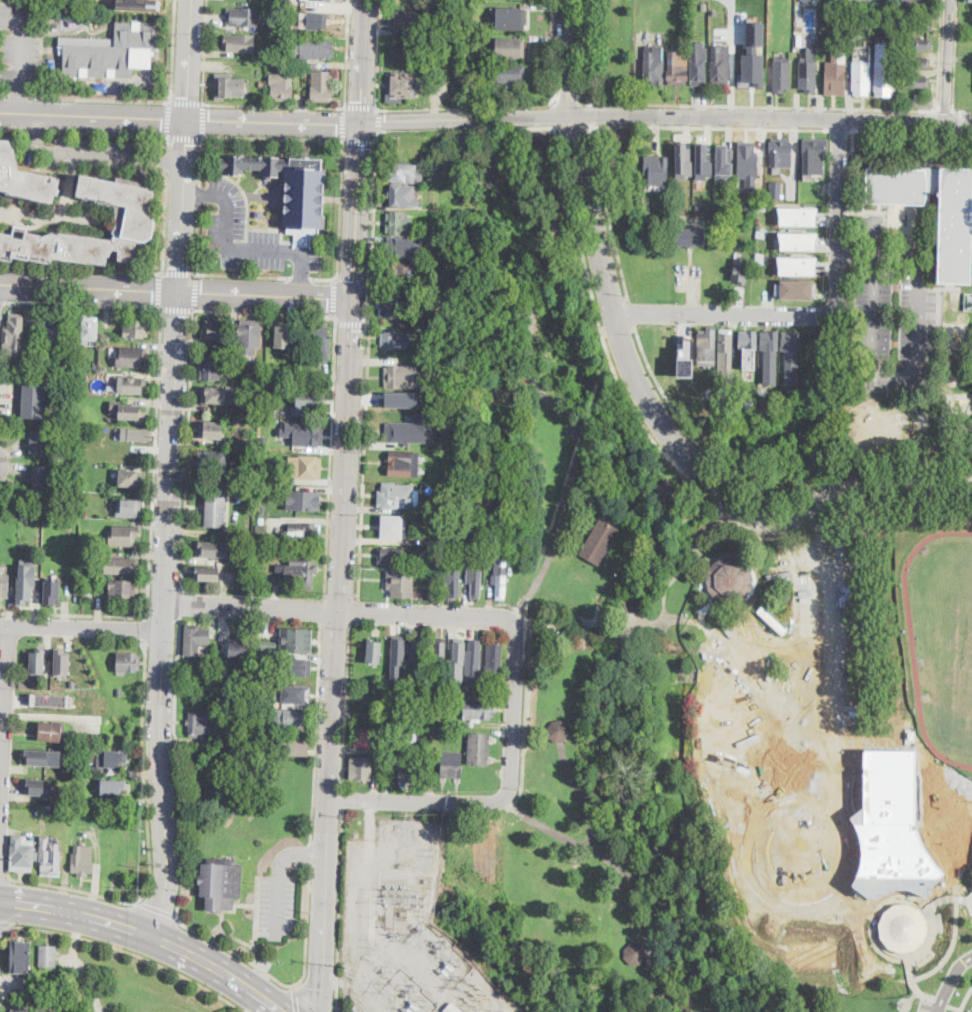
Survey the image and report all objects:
building: (969, 0)
building: (807, 1)
parking lot: (892, 2)
building: (148, 4)
building: (704, 6)
building: (714, 11)
building: (51, 14)
building: (243, 15)
building: (511, 18)
building: (839, 18)
building: (315, 19)
building: (404, 21)
building: (876, 21)
building: (55, 26)
building: (917, 26)
road: (22, 34)
building: (239, 41)
parking lot: (18, 42)
building: (917, 44)
road: (588, 47)
building: (511, 48)
road: (554, 48)
building: (316, 49)
park: (608, 49)
building: (111, 50)
road: (172, 51)
road: (347, 53)
road: (378, 53)
building: (752, 56)
road: (940, 56)
road: (955, 56)
road: (566, 58)
road: (191, 60)
building: (286, 61)
road: (364, 61)
building: (916, 62)
road: (950, 62)
building: (654, 65)
building: (721, 65)
building: (699, 66)
building: (677, 67)
building: (861, 69)
building: (883, 71)
road: (10, 72)
building: (509, 73)
building: (782, 75)
building: (808, 75)
building: (835, 76)
road: (20, 79)
building: (915, 82)
building: (281, 85)
building: (322, 85)
building: (229, 86)
building: (402, 86)
road: (4, 95)
road: (585, 95)
road: (19, 96)
road: (567, 97)
road: (18, 99)
road: (100, 99)
road: (592, 101)
building: (924, 101)
road: (185, 102)
road: (221, 103)
road: (537, 104)
road: (447, 106)
road: (362, 107)
road: (762, 107)
road: (515, 111)
road: (944, 113)
road: (963, 114)
road: (94, 117)
road: (542, 117)
road: (593, 117)
road: (169, 118)
road: (202, 119)
road: (379, 119)
road: (438, 119)
road: (770, 120)
road: (275, 121)
road: (344, 122)
road: (516, 122)
road: (536, 126)
road: (574, 126)
road: (711, 127)
road: (451, 128)
road: (841, 130)
road: (83, 131)
road: (912, 131)
road: (185, 134)
road: (273, 137)
road: (360, 139)
road: (168, 142)
road: (595, 147)
parking lot: (97, 151)
building: (781, 153)
road: (95, 154)
building: (814, 156)
road: (167, 159)
road: (201, 159)
building: (683, 161)
building: (723, 161)
building: (702, 162)
building: (747, 162)
road: (555, 170)
road: (582, 170)
building: (656, 170)
building: (403, 172)
road: (546, 174)
building: (24, 178)
building: (290, 187)
road: (853, 191)
road: (198, 192)
road: (199, 193)
building: (776, 193)
building: (403, 196)
building: (676, 200)
road: (185, 205)
building: (699, 206)
building: (762, 206)
road: (358, 209)
building: (668, 209)
building: (748, 210)
building: (258, 213)
building: (797, 215)
building: (137, 216)
park: (637, 218)
road: (839, 218)
road: (339, 221)
building: (399, 223)
building: (761, 233)
parking lot: (251, 235)
road: (614, 235)
building: (691, 236)
road: (198, 238)
building: (797, 240)
building: (403, 246)
building: (955, 246)
road: (239, 249)
road: (887, 250)
road: (542, 255)
building: (759, 257)
road: (858, 259)
building: (797, 264)
building: (740, 268)
road: (133, 270)
building: (399, 270)
road: (179, 272)
road: (241, 274)
road: (300, 276)
road: (302, 282)
road: (91, 287)
road: (158, 288)
building: (795, 288)
road: (196, 291)
road: (268, 294)
road: (334, 296)
road: (2, 301)
road: (83, 303)
building: (398, 306)
road: (177, 308)
road: (263, 312)
road: (727, 315)
road: (634, 316)
parking lot: (893, 316)
road: (352, 322)
building: (136, 326)
building: (215, 329)
building: (90, 333)
building: (283, 334)
building: (52, 335)
building: (14, 336)
building: (248, 338)
building: (394, 340)
building: (748, 340)
building: (815, 341)
building: (321, 342)
building: (225, 348)
building: (706, 348)
building: (420, 351)
building: (726, 351)
building: (769, 354)
building: (790, 354)
building: (131, 356)
building: (685, 358)
road: (367, 360)
building: (436, 362)
building: (212, 368)
road: (614, 370)
building: (316, 375)
building: (400, 377)
road: (900, 377)
building: (130, 383)
building: (219, 394)
building: (404, 397)
building: (498, 398)
building: (34, 399)
building: (309, 399)
building: (709, 405)
building: (446, 409)
building: (128, 410)
building: (211, 429)
building: (305, 434)
building: (137, 435)
building: (405, 435)
park: (742, 436)
road: (673, 439)
road: (576, 441)
building: (39, 443)
road: (187, 449)
road: (330, 454)
building: (262, 457)
road: (154, 462)
building: (214, 462)
building: (404, 464)
building: (305, 467)
building: (246, 476)
building: (130, 477)
building: (42, 478)
building: (458, 487)
building: (447, 489)
building: (73, 493)
building: (666, 493)
building: (398, 496)
building: (304, 500)
road: (893, 501)
road: (762, 503)
building: (129, 507)
building: (216, 509)
building: (262, 509)
building: (24, 515)
building: (260, 521)
building: (394, 527)
road: (802, 530)
building: (123, 534)
building: (296, 534)
building: (602, 539)
building: (207, 548)
building: (246, 550)
building: (499, 551)
building: (272, 554)
building: (394, 555)
building: (121, 564)
building: (432, 564)
building: (300, 571)
building: (206, 572)
building: (435, 576)
building: (500, 578)
building: (729, 580)
building: (454, 581)
building: (25, 582)
building: (404, 582)
building: (476, 582)
building: (4, 586)
building: (121, 587)
building: (52, 591)
road: (182, 604)
road: (322, 608)
road: (341, 610)
road: (354, 610)
road: (72, 613)
road: (168, 614)
building: (772, 620)
road: (648, 623)
road: (84, 628)
road: (143, 628)
building: (196, 639)
road: (819, 639)
track: (943, 639)
building: (297, 640)
building: (266, 644)
building: (257, 646)
building: (375, 650)
building: (238, 651)
building: (399, 652)
road: (337, 654)
building: (255, 656)
building: (417, 656)
building: (440, 656)
building: (458, 657)
building: (474, 659)
building: (493, 659)
building: (37, 661)
building: (61, 662)
building: (129, 663)
building: (295, 666)
building: (210, 671)
building: (246, 671)
road: (175, 676)
building: (72, 683)
building: (120, 692)
building: (295, 693)
road: (526, 695)
building: (51, 699)
park: (716, 701)
road: (346, 704)
building: (366, 704)
building: (479, 709)
road: (514, 710)
building: (221, 717)
building: (292, 718)
building: (199, 724)
road: (5, 728)
road: (315, 731)
building: (558, 731)
building: (50, 732)
building: (365, 737)
building: (295, 747)
building: (478, 749)
building: (39, 757)
building: (111, 757)
building: (388, 757)
building: (81, 761)
building: (451, 764)
building: (362, 767)
building: (407, 771)
building: (113, 786)
building: (39, 787)
road: (582, 795)
road: (343, 797)
road: (418, 800)
road: (182, 826)
building: (891, 827)
road: (149, 840)
park: (250, 844)
fountain: (796, 850)
road: (309, 851)
building: (22, 854)
building: (50, 856)
building: (83, 861)
road: (4, 875)
road: (625, 875)
road: (279, 876)
building: (221, 883)
road: (766, 892)
road: (859, 900)
parking lot: (277, 906)
road: (156, 908)
road: (338, 910)
road: (874, 914)
road: (256, 919)
road: (5, 924)
road: (307, 926)
building: (903, 926)
power substation: (407, 929)
road: (148, 935)
road: (236, 936)
road: (931, 936)
road: (955, 943)
road: (126, 950)
road: (234, 951)
building: (634, 954)
building: (21, 957)
building: (48, 957)
road: (77, 965)
road: (951, 981)
road: (914, 982)
building: (18, 994)
road: (294, 999)
road: (307, 999)
road: (966, 1000)
road: (941, 1003)
parking lot: (930, 1006)
building: (453, 1008)
road: (956, 1008)
building: (30, 1009)
building: (75, 1010)

